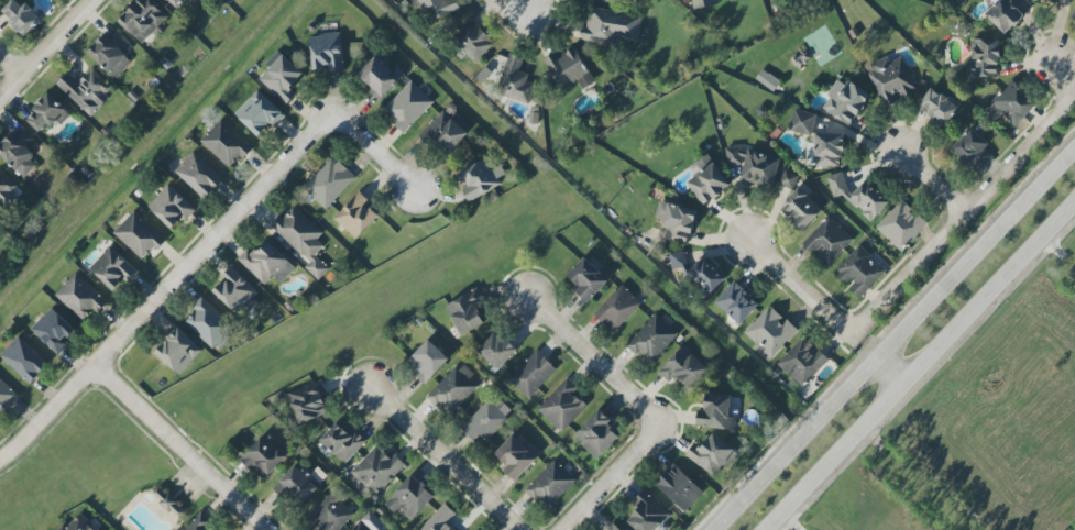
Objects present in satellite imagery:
building: (1034, 0)
building: (176, 2)
building: (703, 2)
building: (439, 7)
road: (512, 10)
building: (1006, 13)
building: (1073, 15)
building: (21, 16)
building: (142, 20)
building: (610, 25)
building: (472, 41)
road: (47, 51)
building: (327, 52)
building: (111, 53)
road: (14, 58)
building: (984, 58)
road: (1067, 67)
building: (569, 69)
building: (380, 76)
building: (282, 78)
building: (767, 79)
building: (891, 79)
building: (515, 81)
building: (86, 90)
building: (845, 101)
building: (1011, 104)
building: (407, 106)
building: (937, 107)
building: (47, 113)
building: (260, 113)
building: (802, 122)
building: (447, 130)
building: (226, 144)
building: (825, 150)
building: (972, 151)
building: (18, 152)
road: (372, 155)
building: (753, 165)
building: (199, 175)
building: (480, 178)
building: (706, 179)
building: (788, 179)
building: (329, 183)
road: (936, 183)
building: (7, 191)
building: (858, 196)
building: (171, 207)
building: (801, 208)
building: (355, 214)
road: (963, 218)
building: (676, 221)
building: (901, 224)
building: (139, 235)
building: (301, 239)
road: (213, 240)
building: (827, 241)
building: (266, 263)
building: (112, 268)
building: (858, 272)
building: (696, 273)
building: (596, 278)
road: (801, 288)
building: (237, 291)
road: (507, 292)
building: (80, 297)
building: (736, 302)
road: (571, 306)
building: (622, 307)
building: (474, 312)
building: (209, 323)
road: (531, 324)
road: (593, 329)
building: (54, 330)
building: (770, 331)
road: (891, 335)
building: (657, 338)
road: (557, 341)
building: (177, 349)
building: (504, 349)
road: (596, 356)
building: (24, 360)
road: (623, 361)
building: (801, 363)
road: (920, 363)
building: (432, 364)
building: (689, 366)
road: (586, 368)
road: (886, 371)
building: (537, 372)
road: (348, 384)
building: (457, 388)
road: (655, 388)
road: (405, 394)
building: (6, 396)
building: (315, 400)
building: (567, 402)
road: (618, 402)
building: (722, 411)
road: (48, 412)
road: (678, 412)
road: (424, 413)
building: (490, 418)
road: (377, 419)
building: (602, 434)
road: (676, 437)
building: (349, 440)
road: (459, 443)
road: (185, 446)
road: (414, 448)
building: (717, 453)
building: (270, 454)
road: (658, 454)
building: (522, 455)
road: (446, 459)
building: (381, 468)
road: (434, 468)
road: (239, 474)
road: (612, 476)
road: (628, 482)
building: (555, 483)
building: (306, 485)
road: (501, 485)
building: (685, 485)
building: (417, 497)
building: (168, 503)
road: (271, 505)
road: (522, 505)
building: (652, 511)
building: (333, 514)
road: (472, 514)
road: (601, 515)
building: (443, 519)
building: (79, 523)
building: (199, 525)
building: (362, 526)
road: (514, 527)
building: (615, 528)
building: (621, 528)

